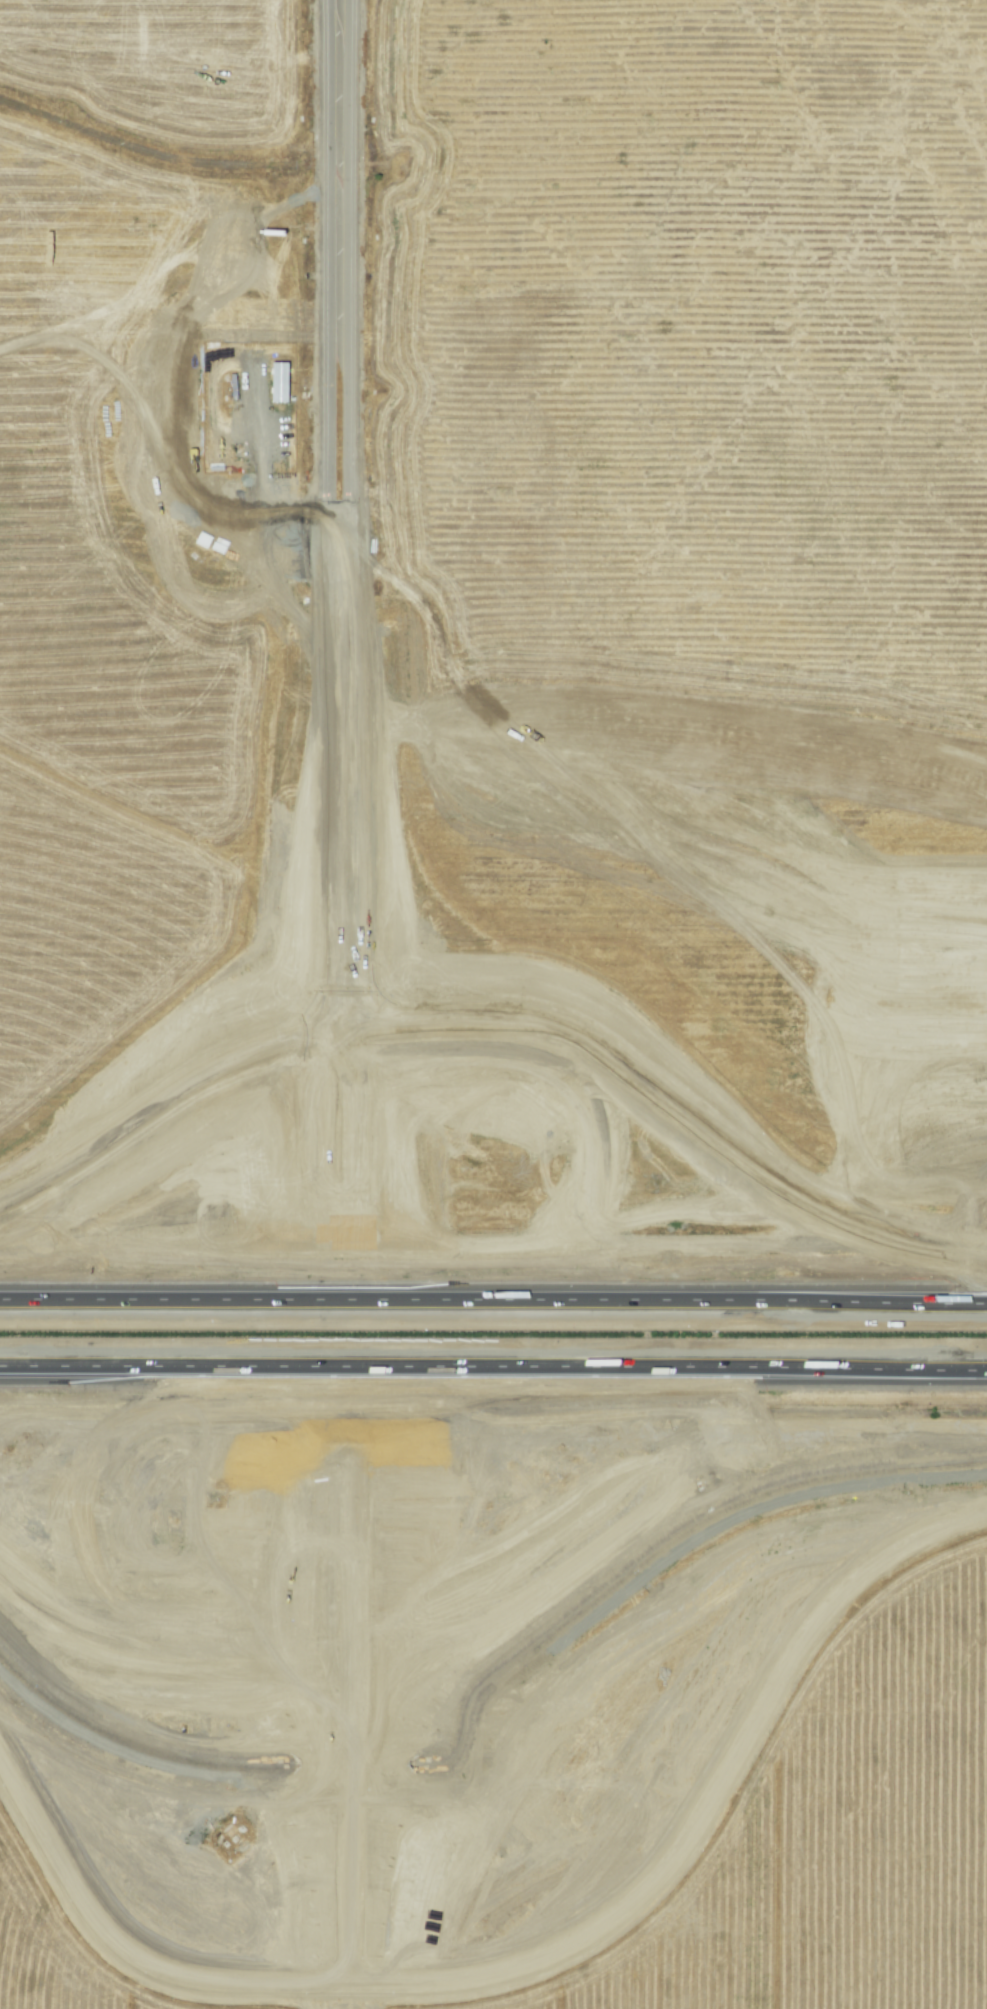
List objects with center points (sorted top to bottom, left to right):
road: (353, 514)
road: (329, 516)
road: (170, 1101)
road: (675, 1115)
road: (352, 1130)
road: (493, 1297)
road: (352, 1339)
road: (493, 1373)
road: (187, 1423)
road: (167, 1647)
road: (353, 1713)
road: (538, 1962)

